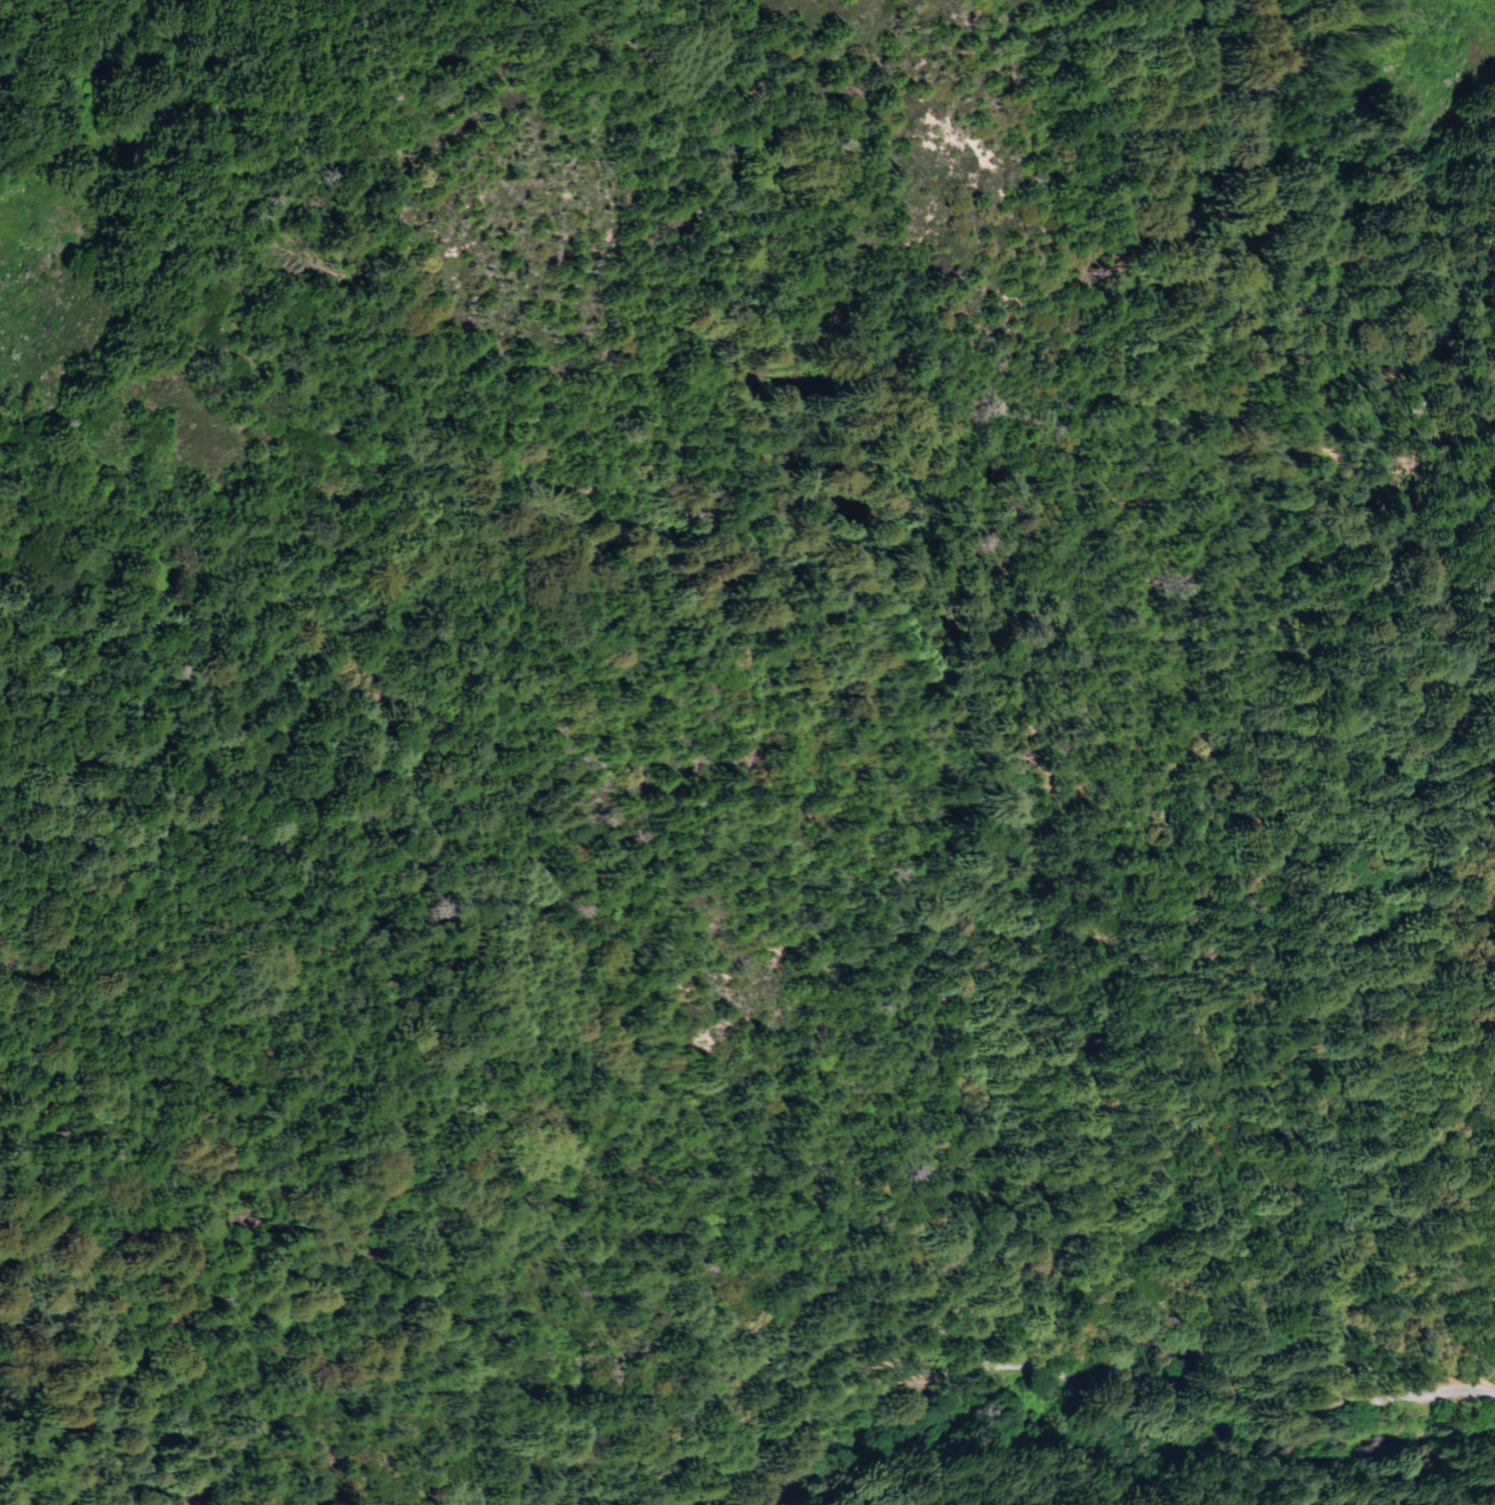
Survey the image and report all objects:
road: (12, 6)
road: (193, 197)
road: (1096, 1384)

